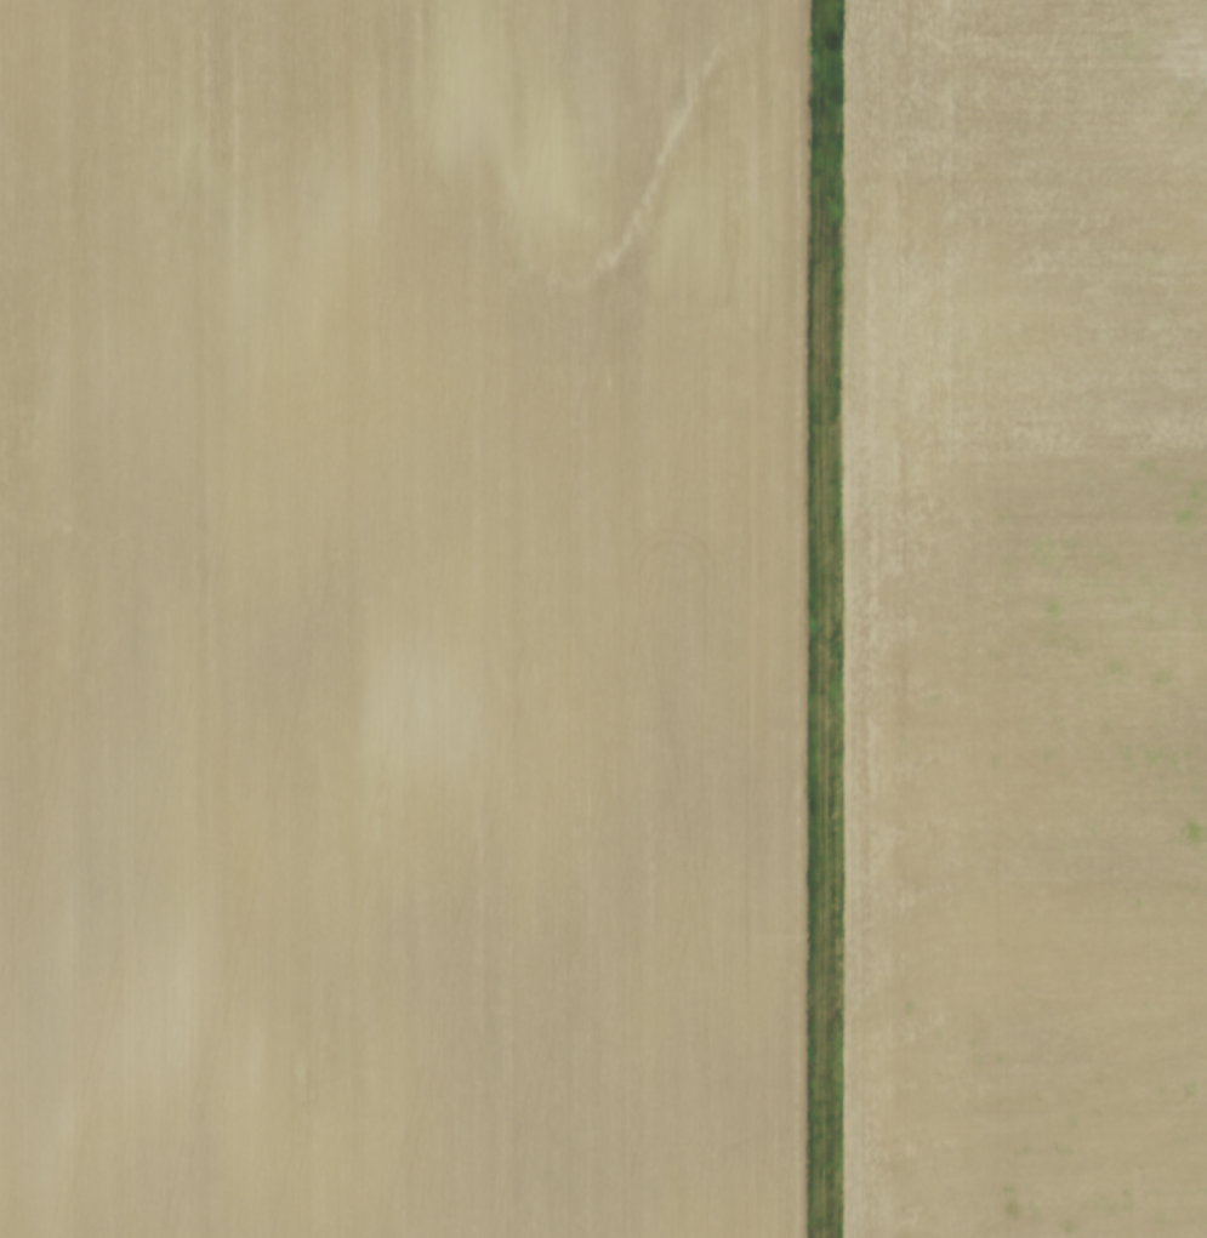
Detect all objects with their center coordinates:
road: (813, 618)

